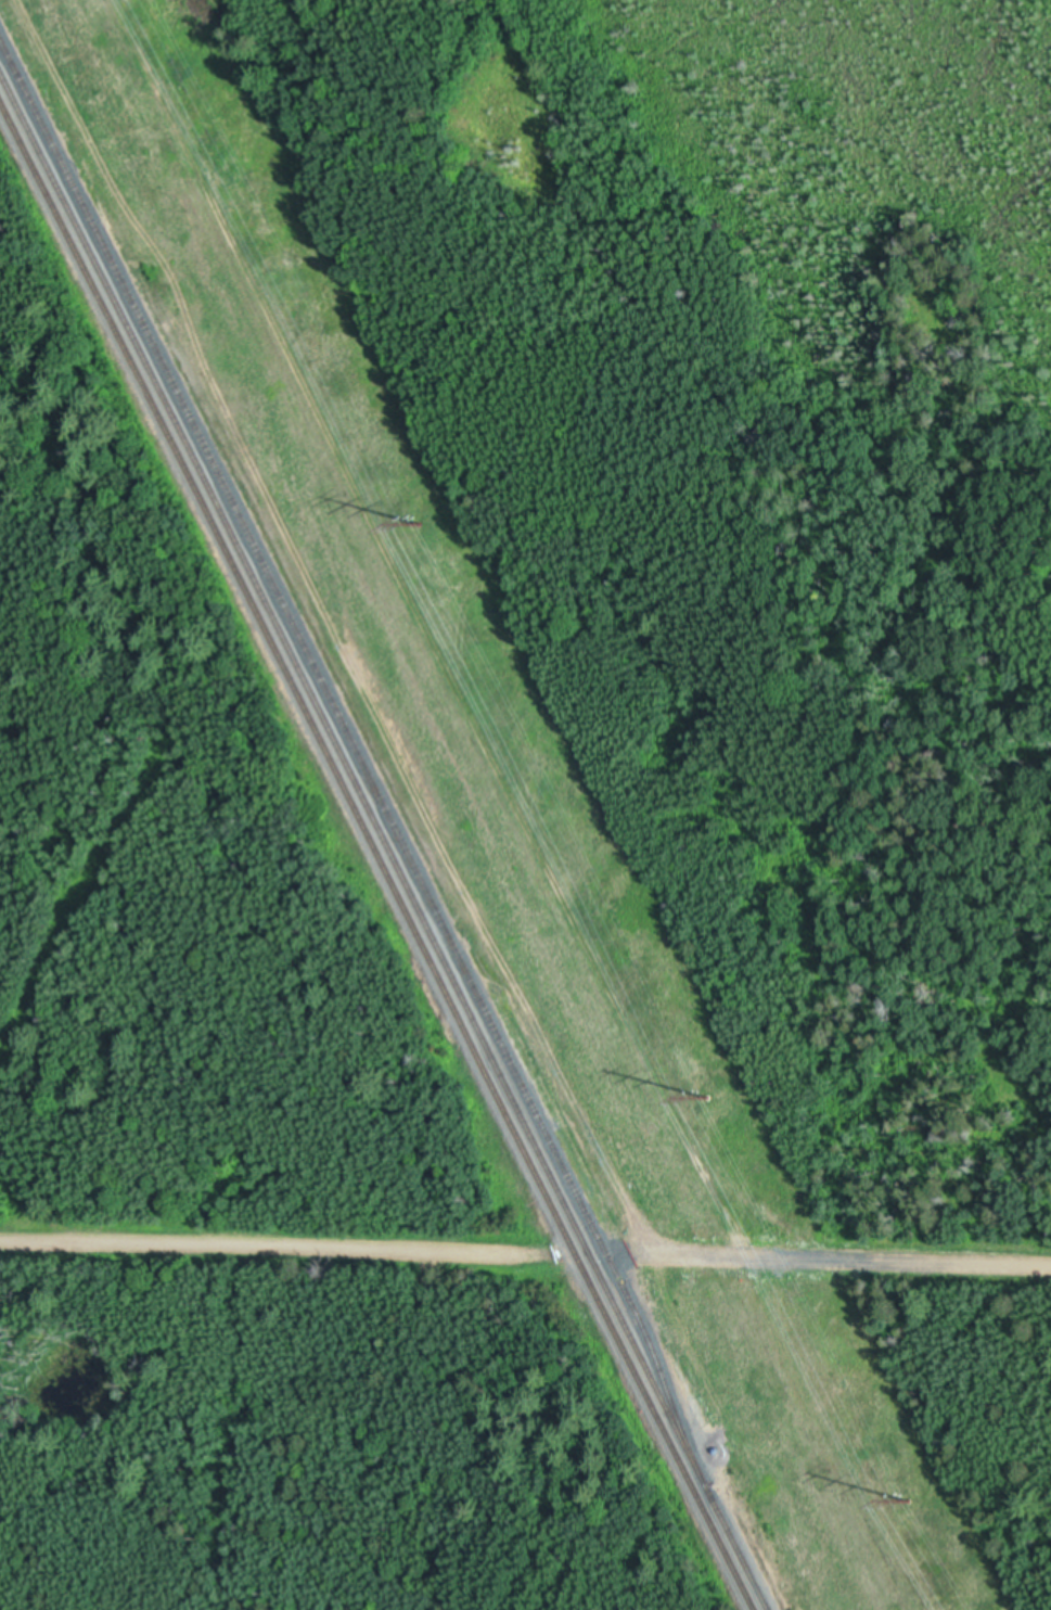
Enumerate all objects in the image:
power tower: (420, 526)
railway: (386, 838)
railway: (375, 858)
power tower: (706, 1100)
road: (525, 1255)
power tower: (909, 1503)

